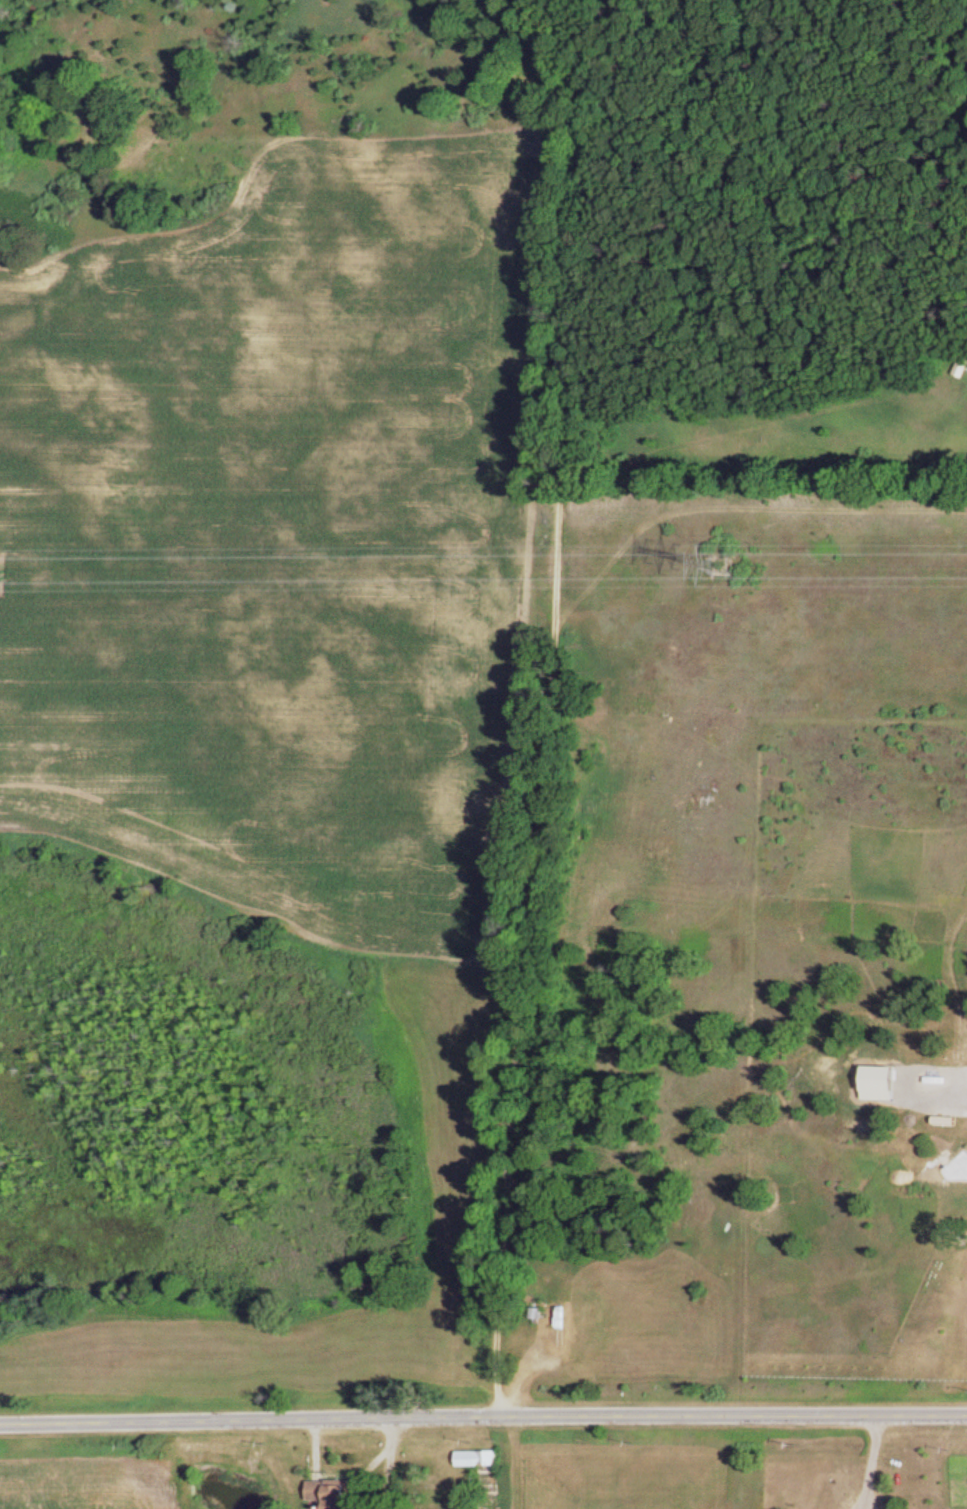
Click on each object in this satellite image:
building: (962, 370)
power tower: (717, 566)
road: (533, 708)
building: (566, 1329)
road: (483, 1420)
road: (875, 1464)
building: (484, 1474)
crop: (87, 1478)
building: (334, 1495)

